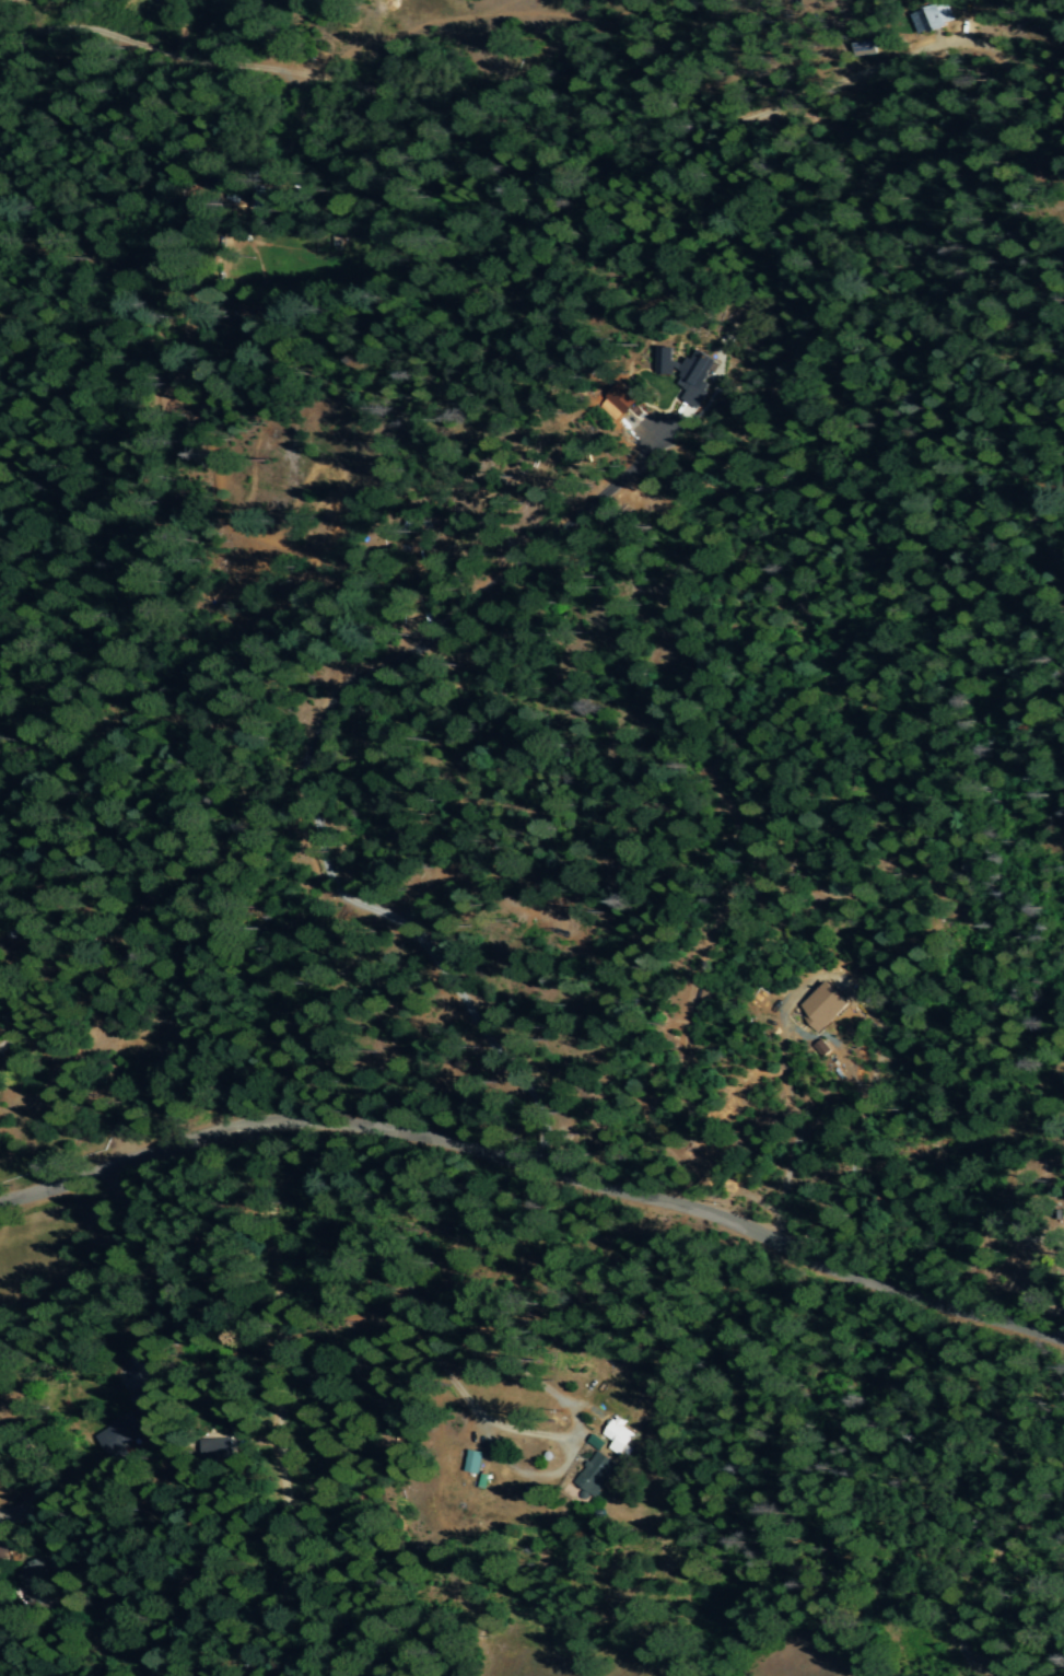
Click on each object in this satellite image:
building: (933, 19)
road: (327, 70)
building: (217, 178)
building: (687, 373)
building: (622, 399)
building: (0, 993)
building: (825, 1005)
road: (538, 1169)
road: (137, 1273)
road: (391, 1276)
building: (144, 1399)
road: (276, 1401)
building: (118, 1435)
building: (619, 1435)
building: (215, 1450)
building: (473, 1462)
road: (559, 1469)
building: (596, 1474)
road: (37, 1481)
building: (2, 1549)
building: (37, 1582)

